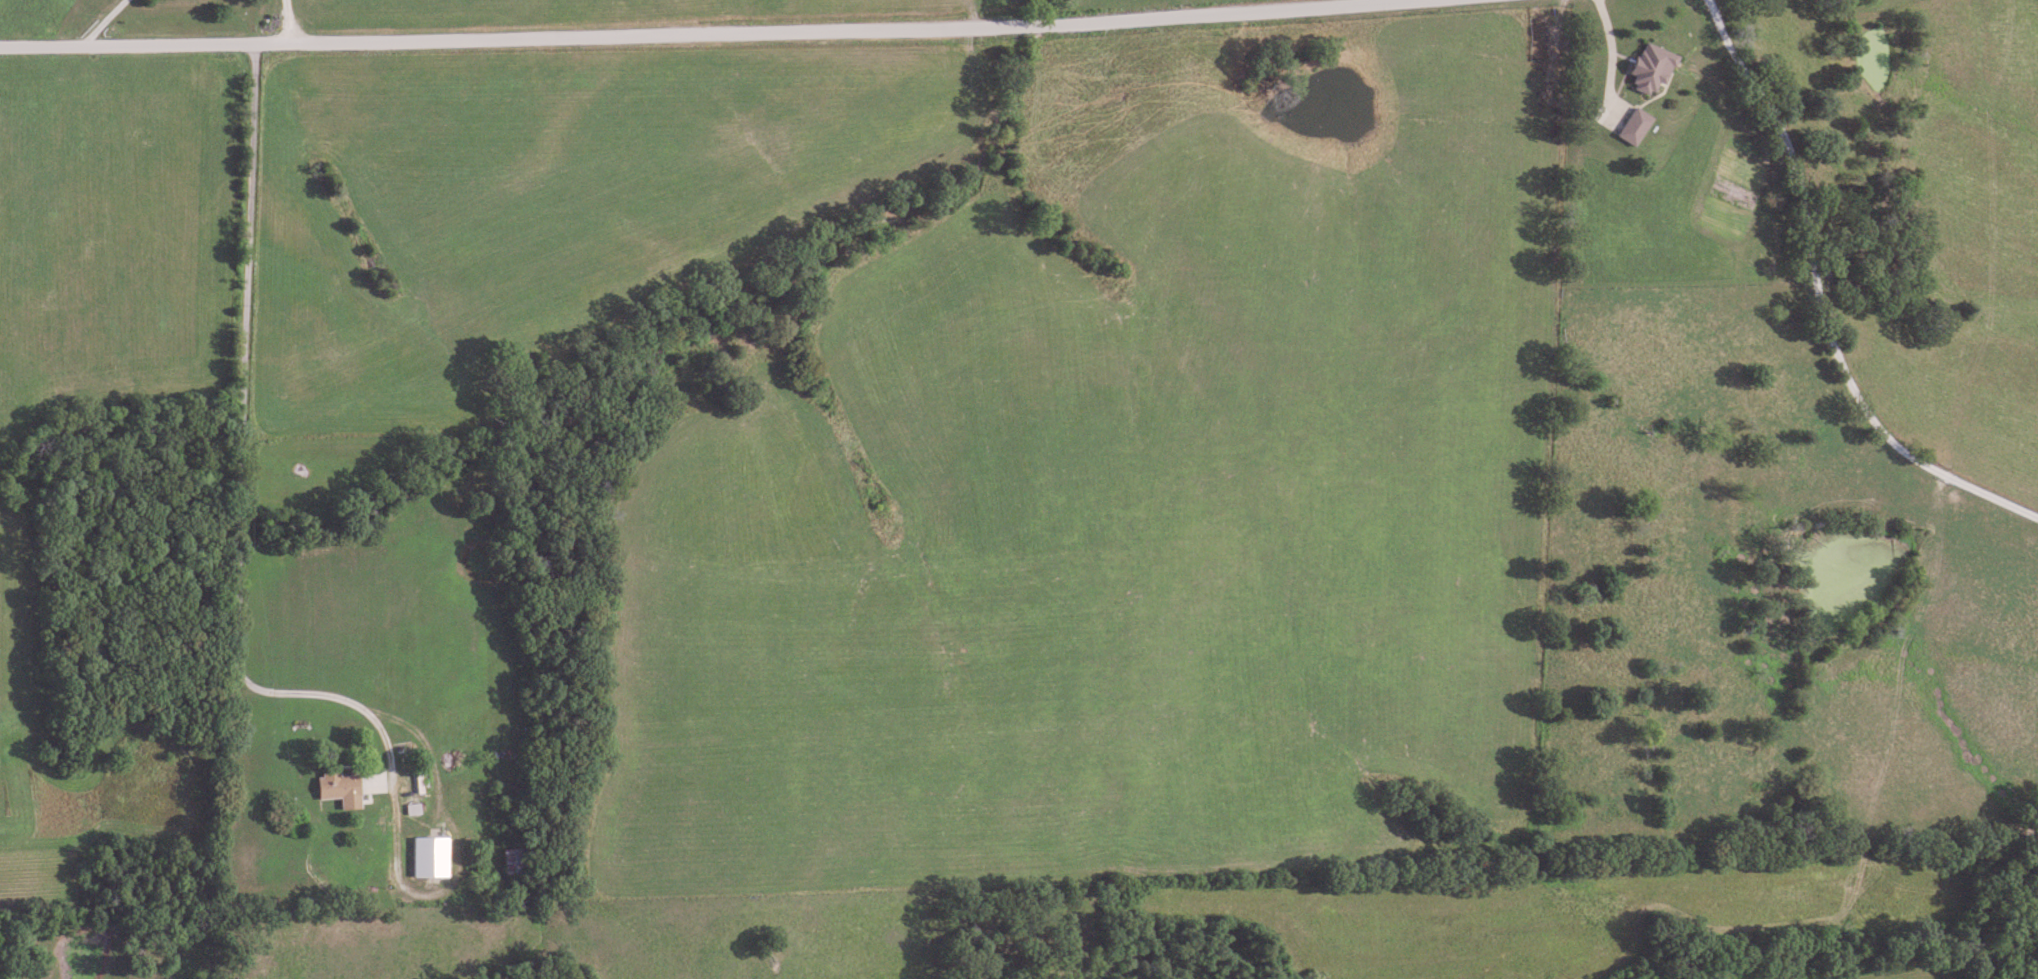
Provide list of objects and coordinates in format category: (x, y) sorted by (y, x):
road: (920, 10)
road: (286, 20)
road: (104, 22)
road: (658, 30)
road: (1611, 55)
building: (1647, 67)
road: (1821, 298)
road: (914, 476)
road: (236, 651)
building: (337, 785)
building: (429, 858)

